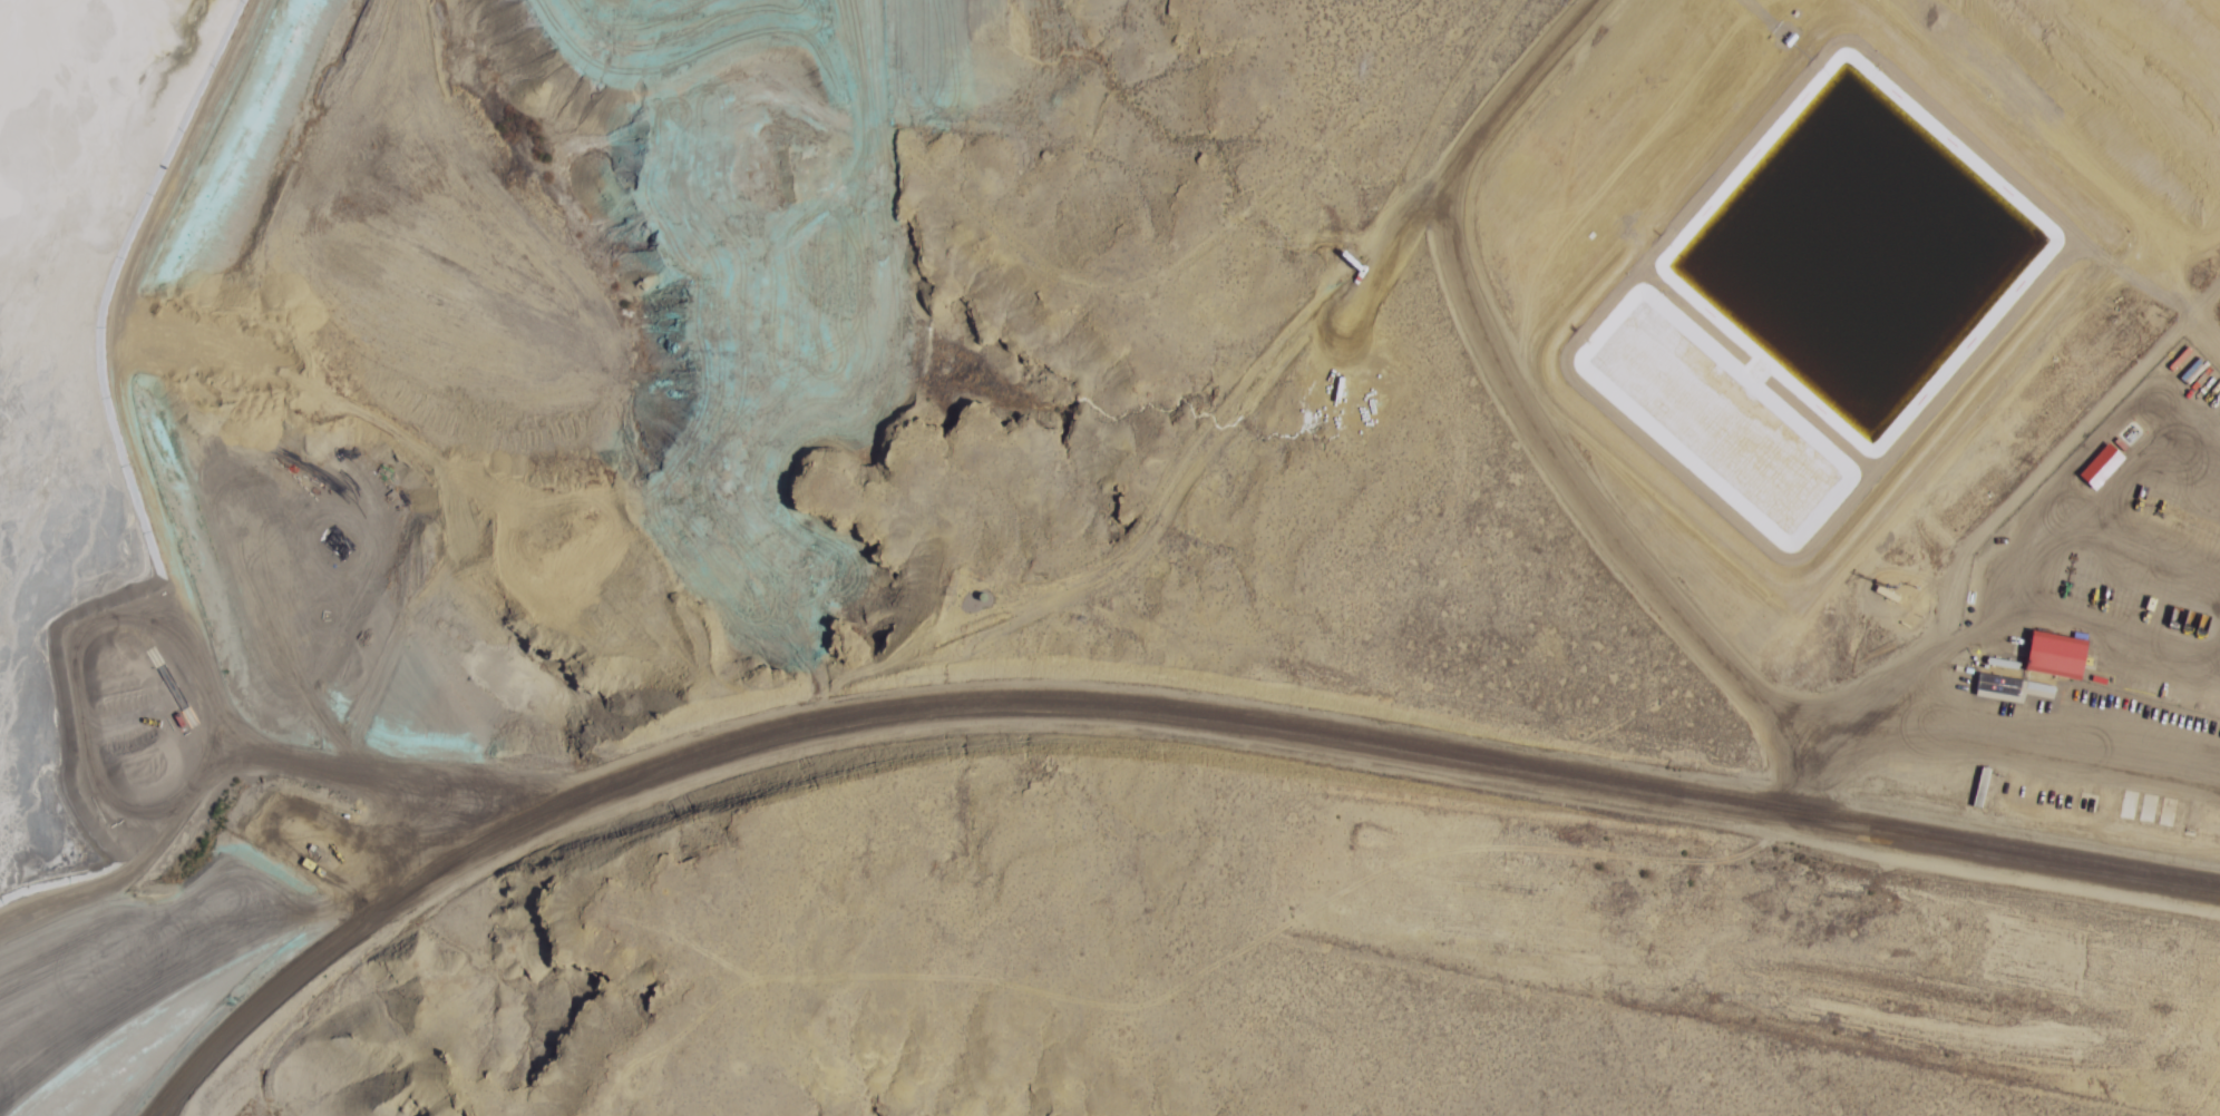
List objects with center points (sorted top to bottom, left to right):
road: (1284, 346)
wastewater plant: (66, 412)

